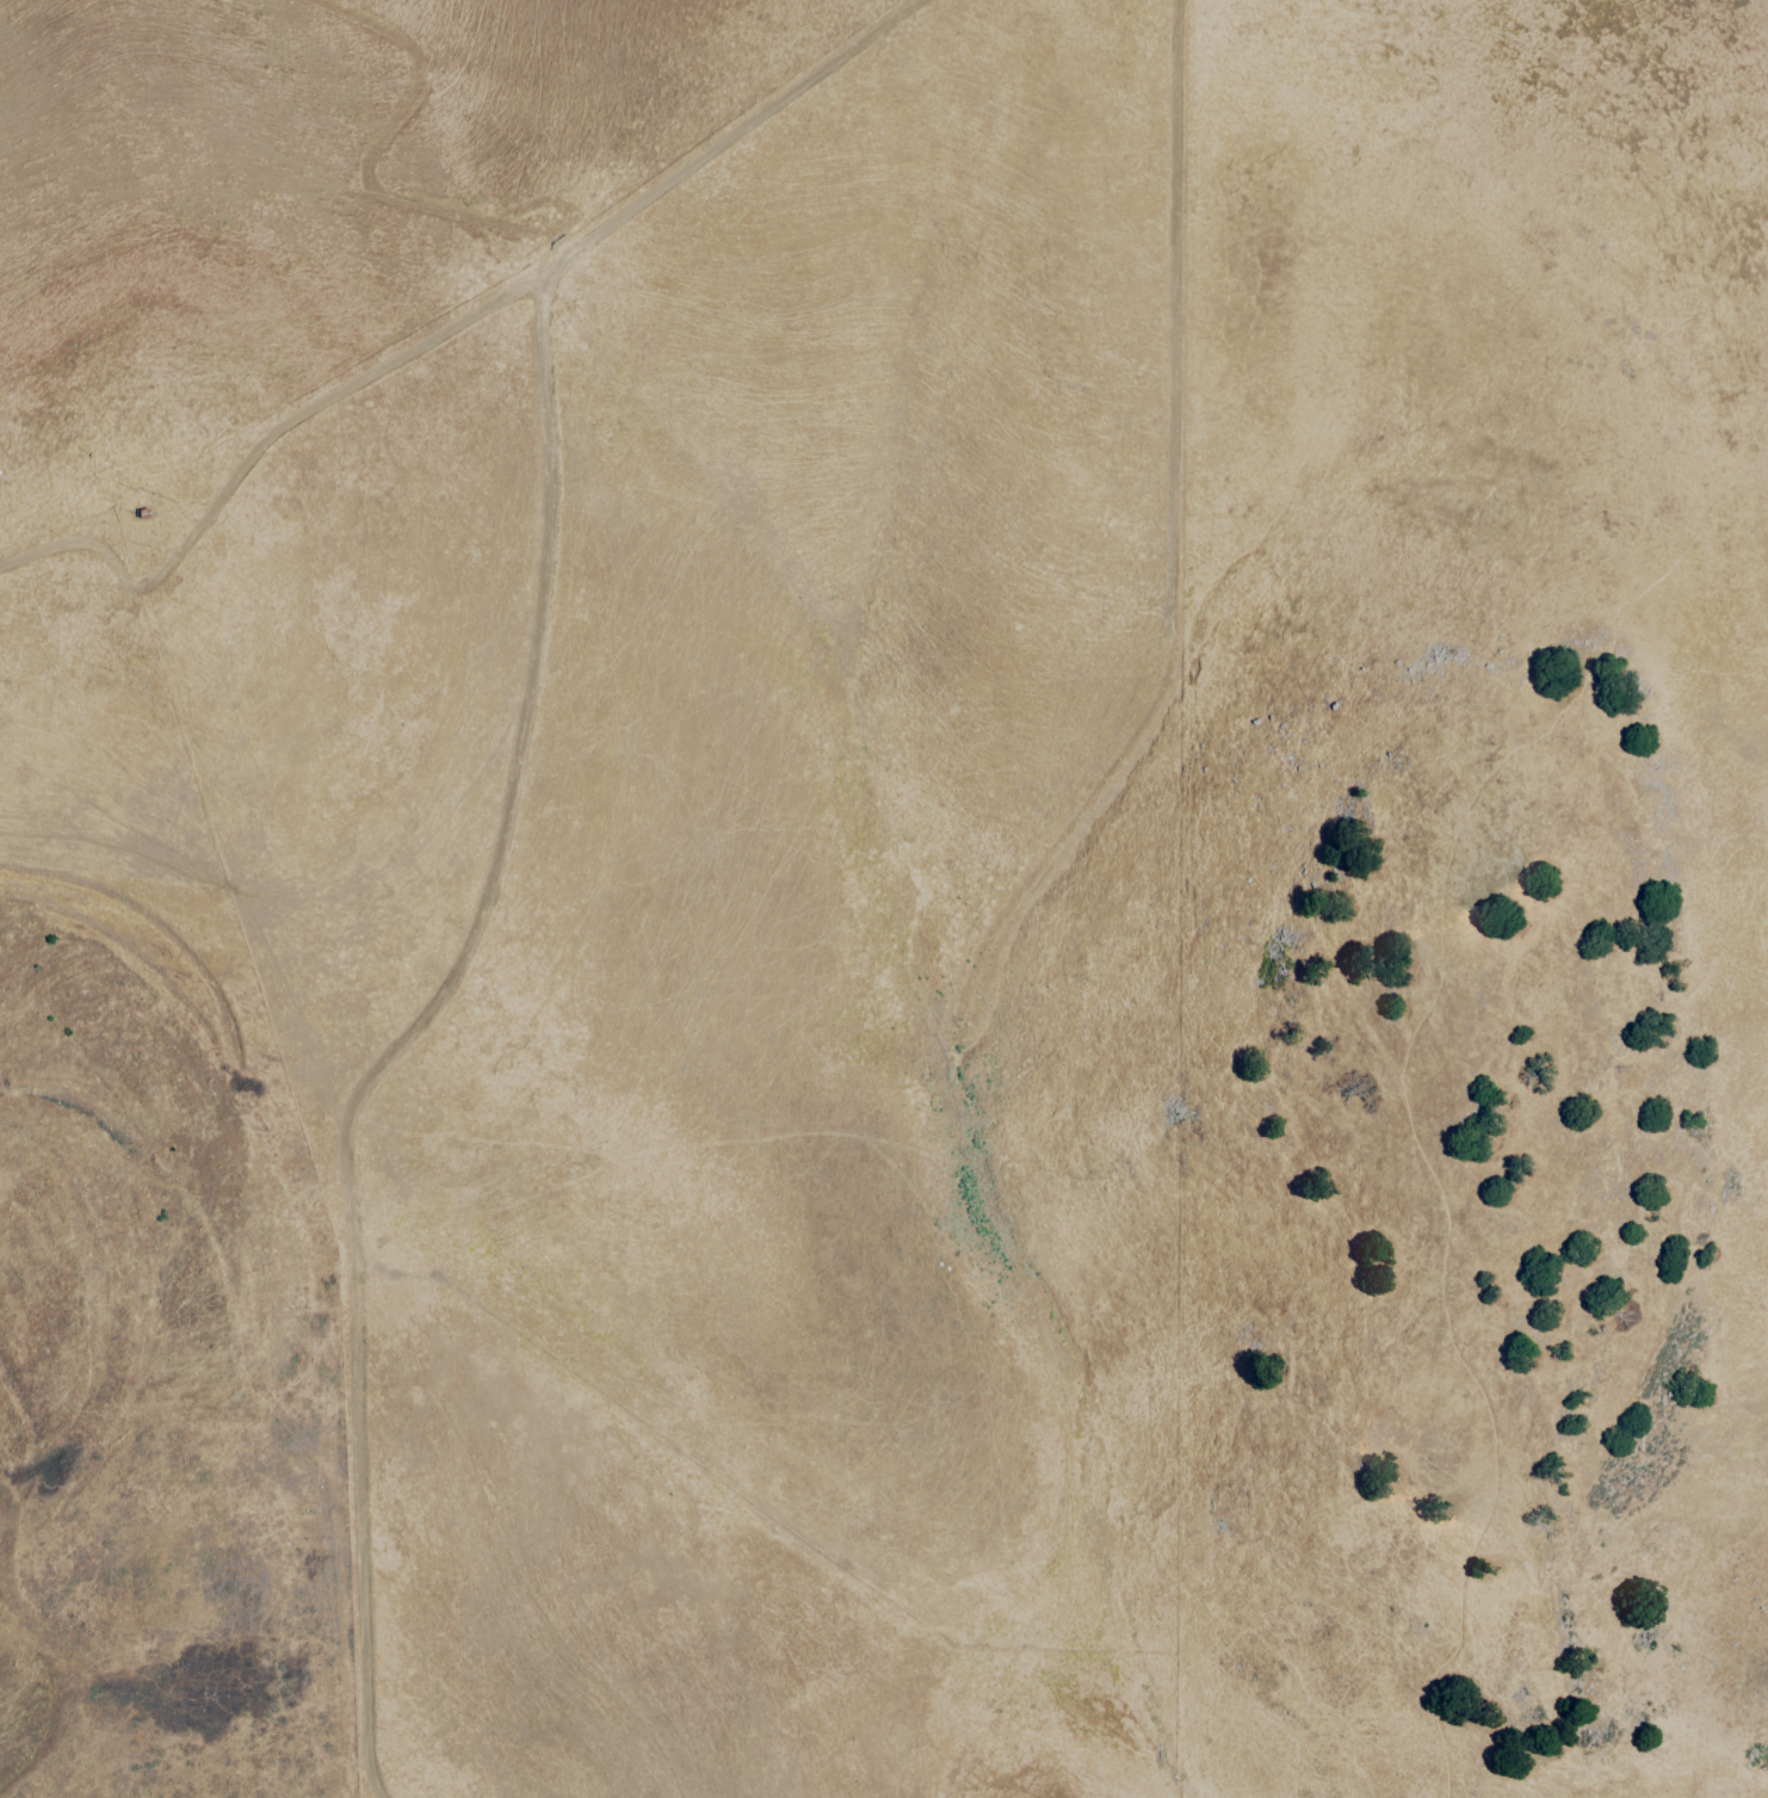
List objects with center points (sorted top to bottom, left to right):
road: (388, 148)
road: (1447, 1229)
landfill: (122, 1244)

